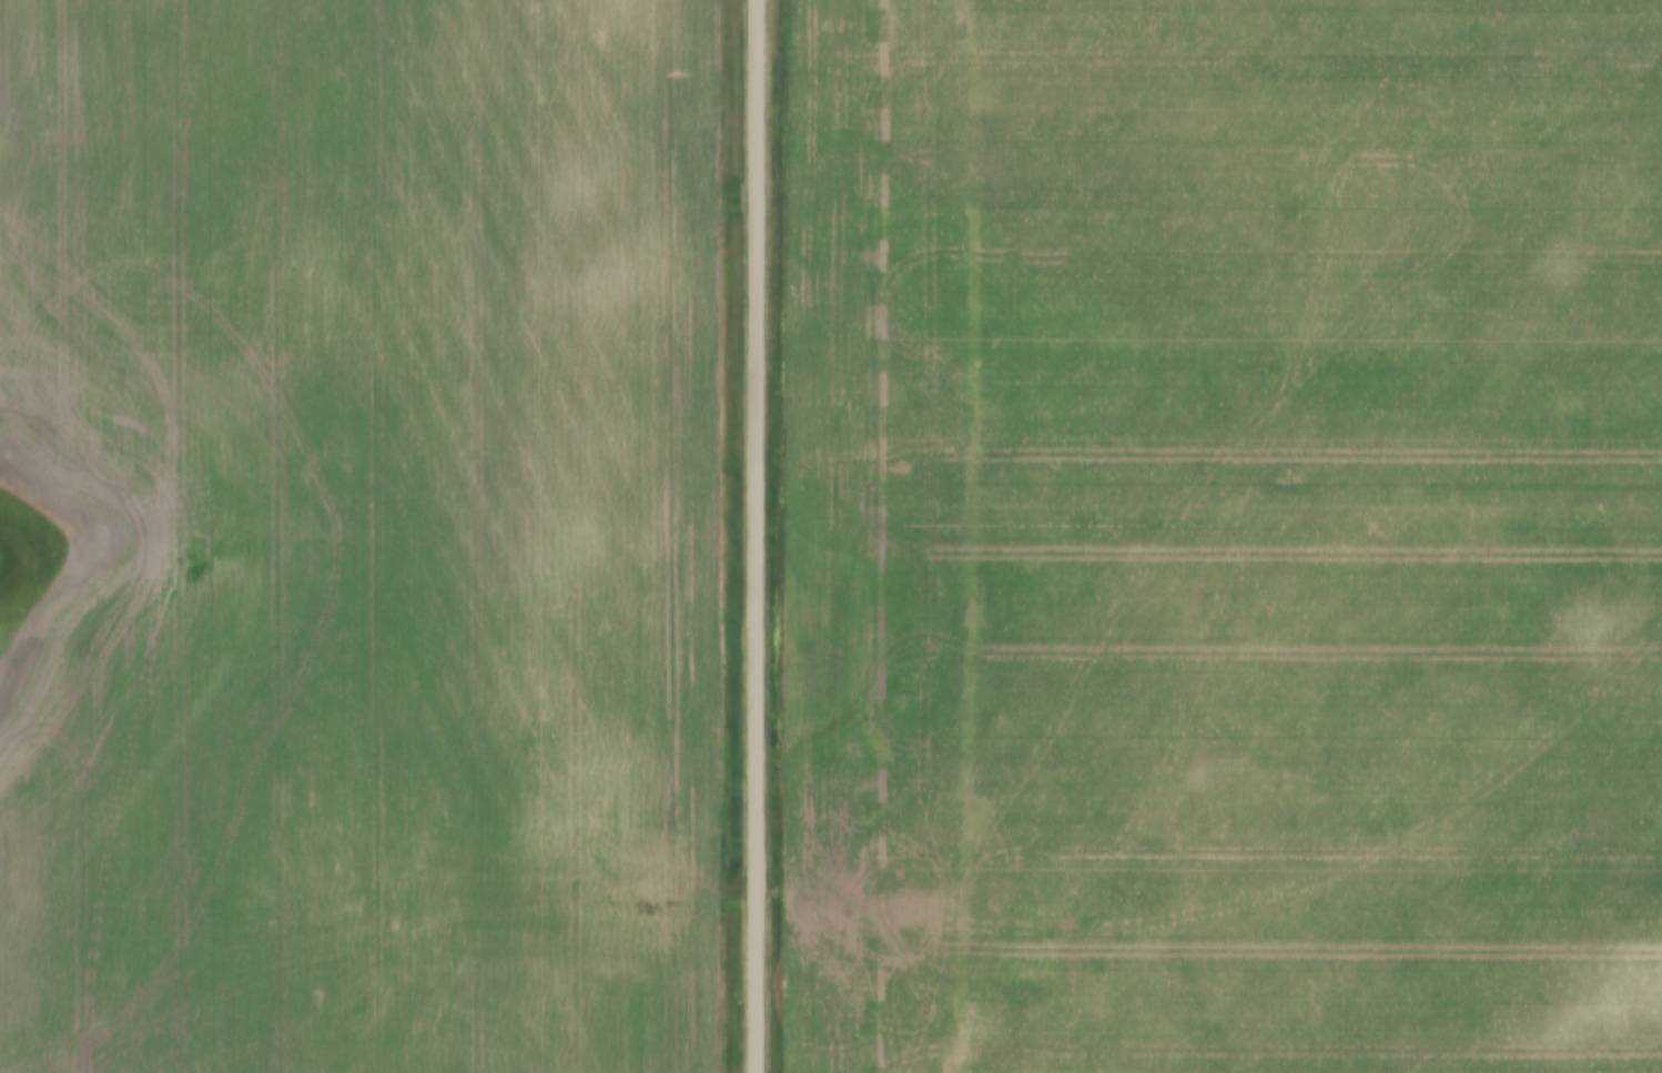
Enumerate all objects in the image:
road: (758, 536)

